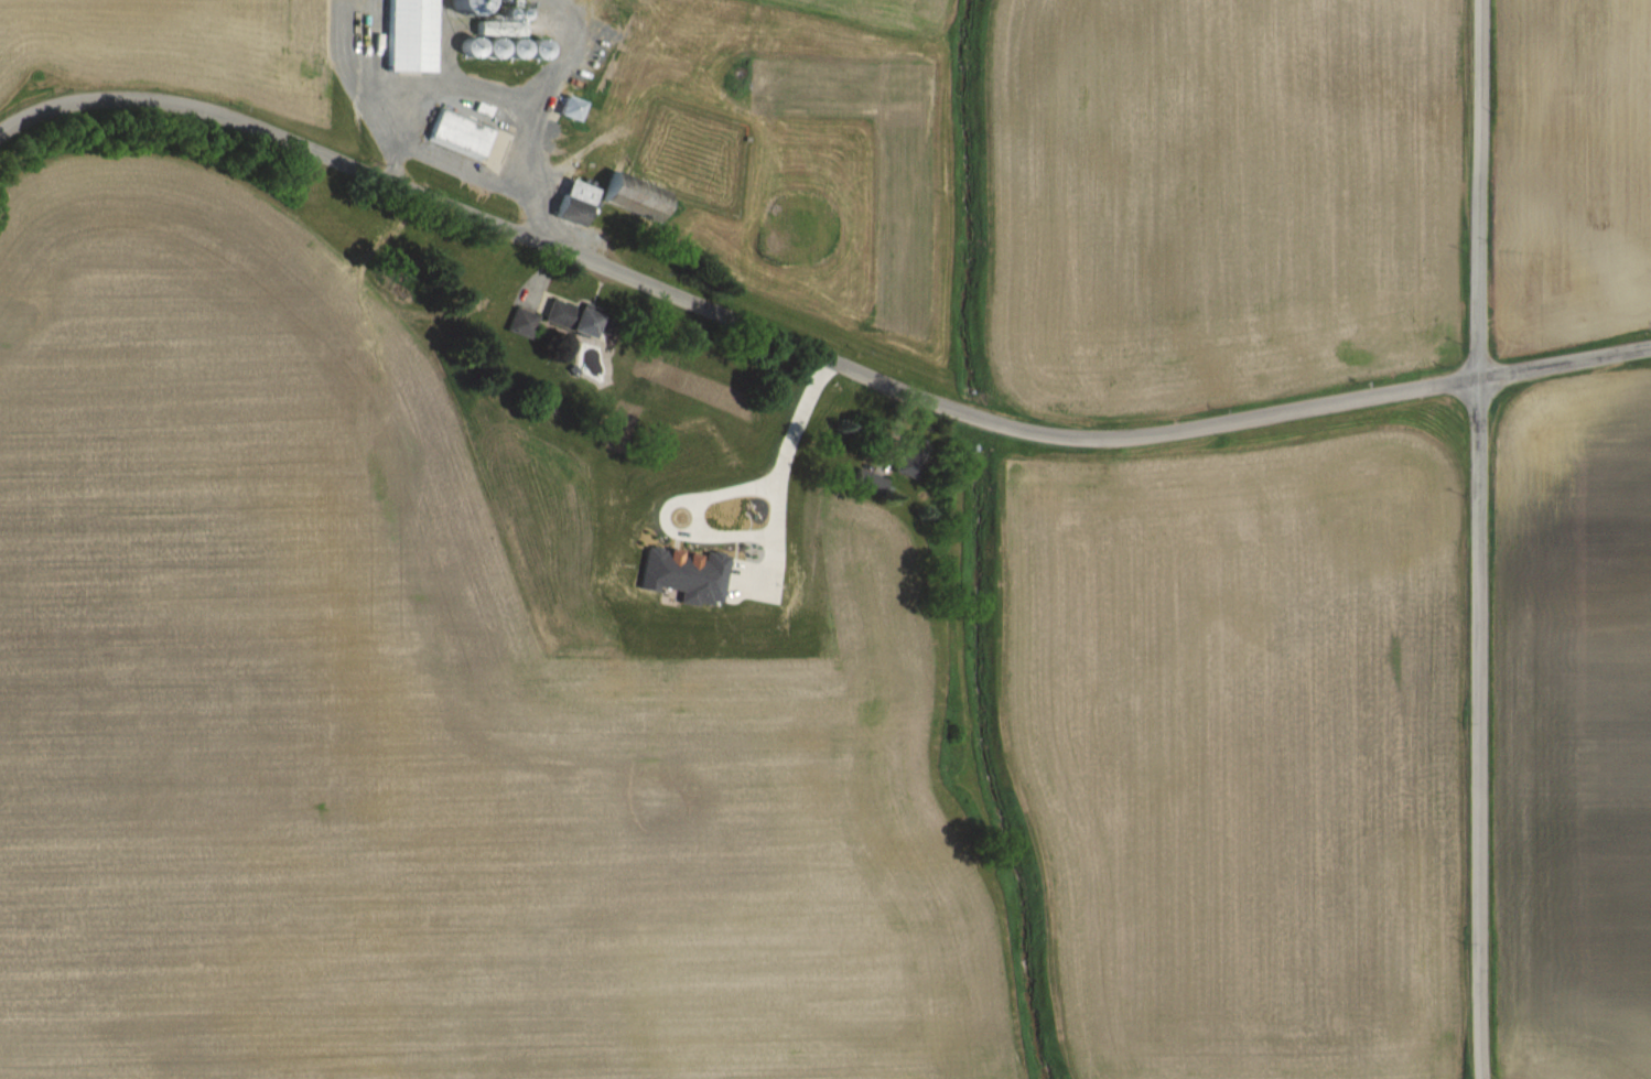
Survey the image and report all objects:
building: (463, 6)
building: (496, 28)
building: (408, 35)
building: (466, 48)
building: (489, 48)
building: (511, 48)
building: (535, 50)
crop: (202, 79)
building: (568, 109)
building: (456, 133)
crop: (1575, 171)
building: (632, 197)
building: (573, 203)
crop: (1217, 205)
building: (576, 320)
road: (729, 320)
road: (1565, 365)
road: (790, 440)
building: (908, 457)
building: (867, 482)
road: (1479, 539)
crop: (679, 713)
crop: (1568, 721)

